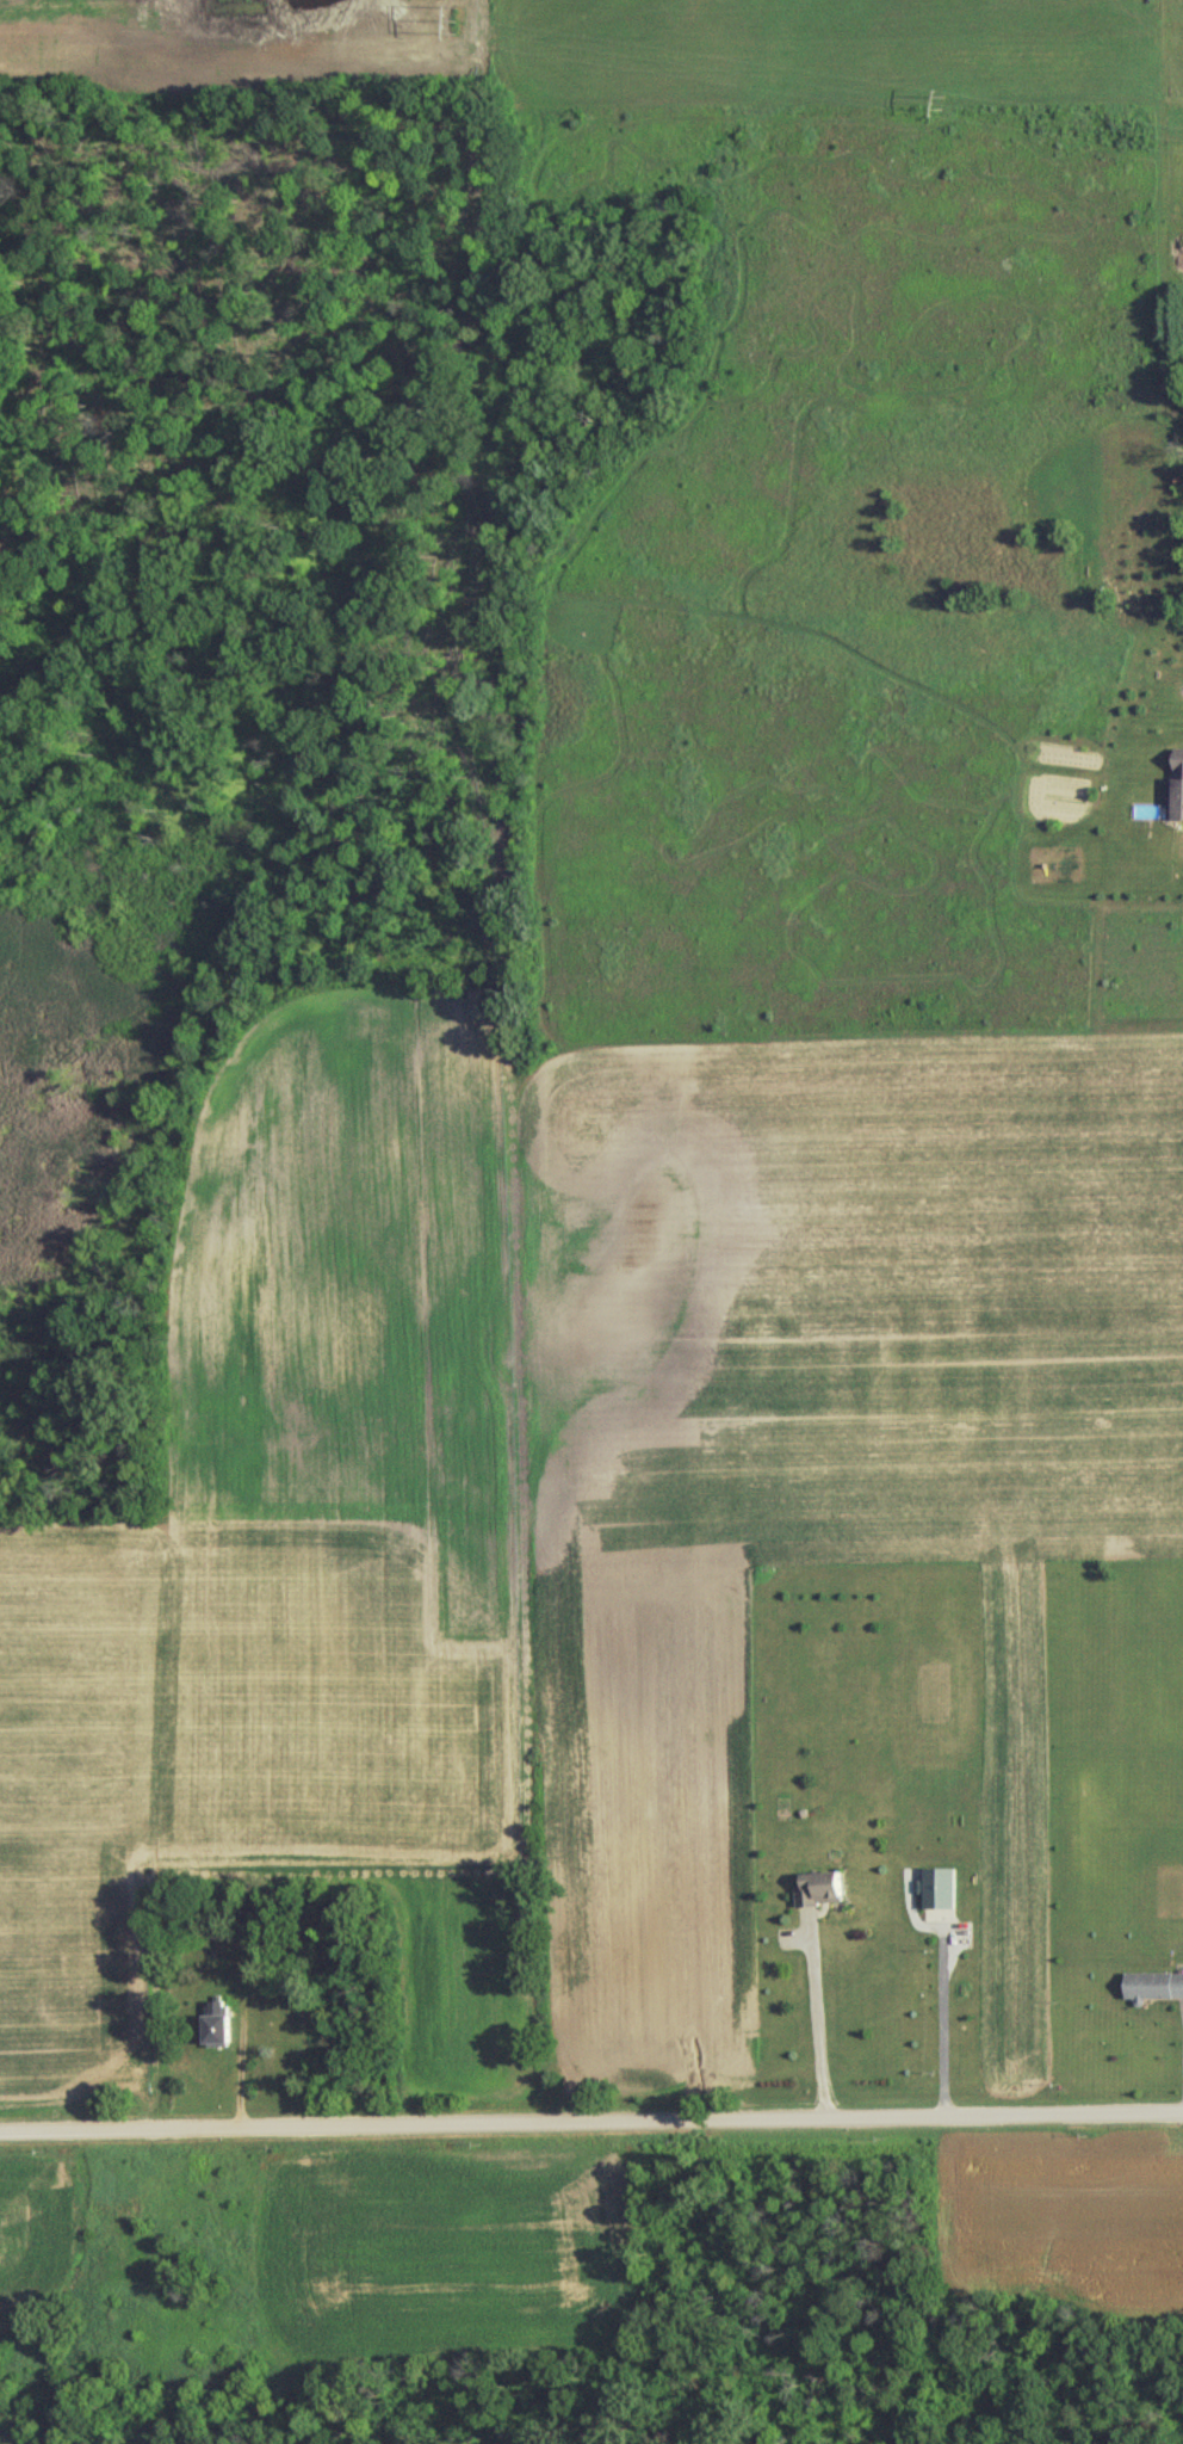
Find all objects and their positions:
power tower: (459, 23)
power tower: (944, 101)
building: (1175, 789)
building: (817, 1886)
building: (935, 1886)
building: (1151, 1985)
building: (210, 2023)
road: (591, 2123)

